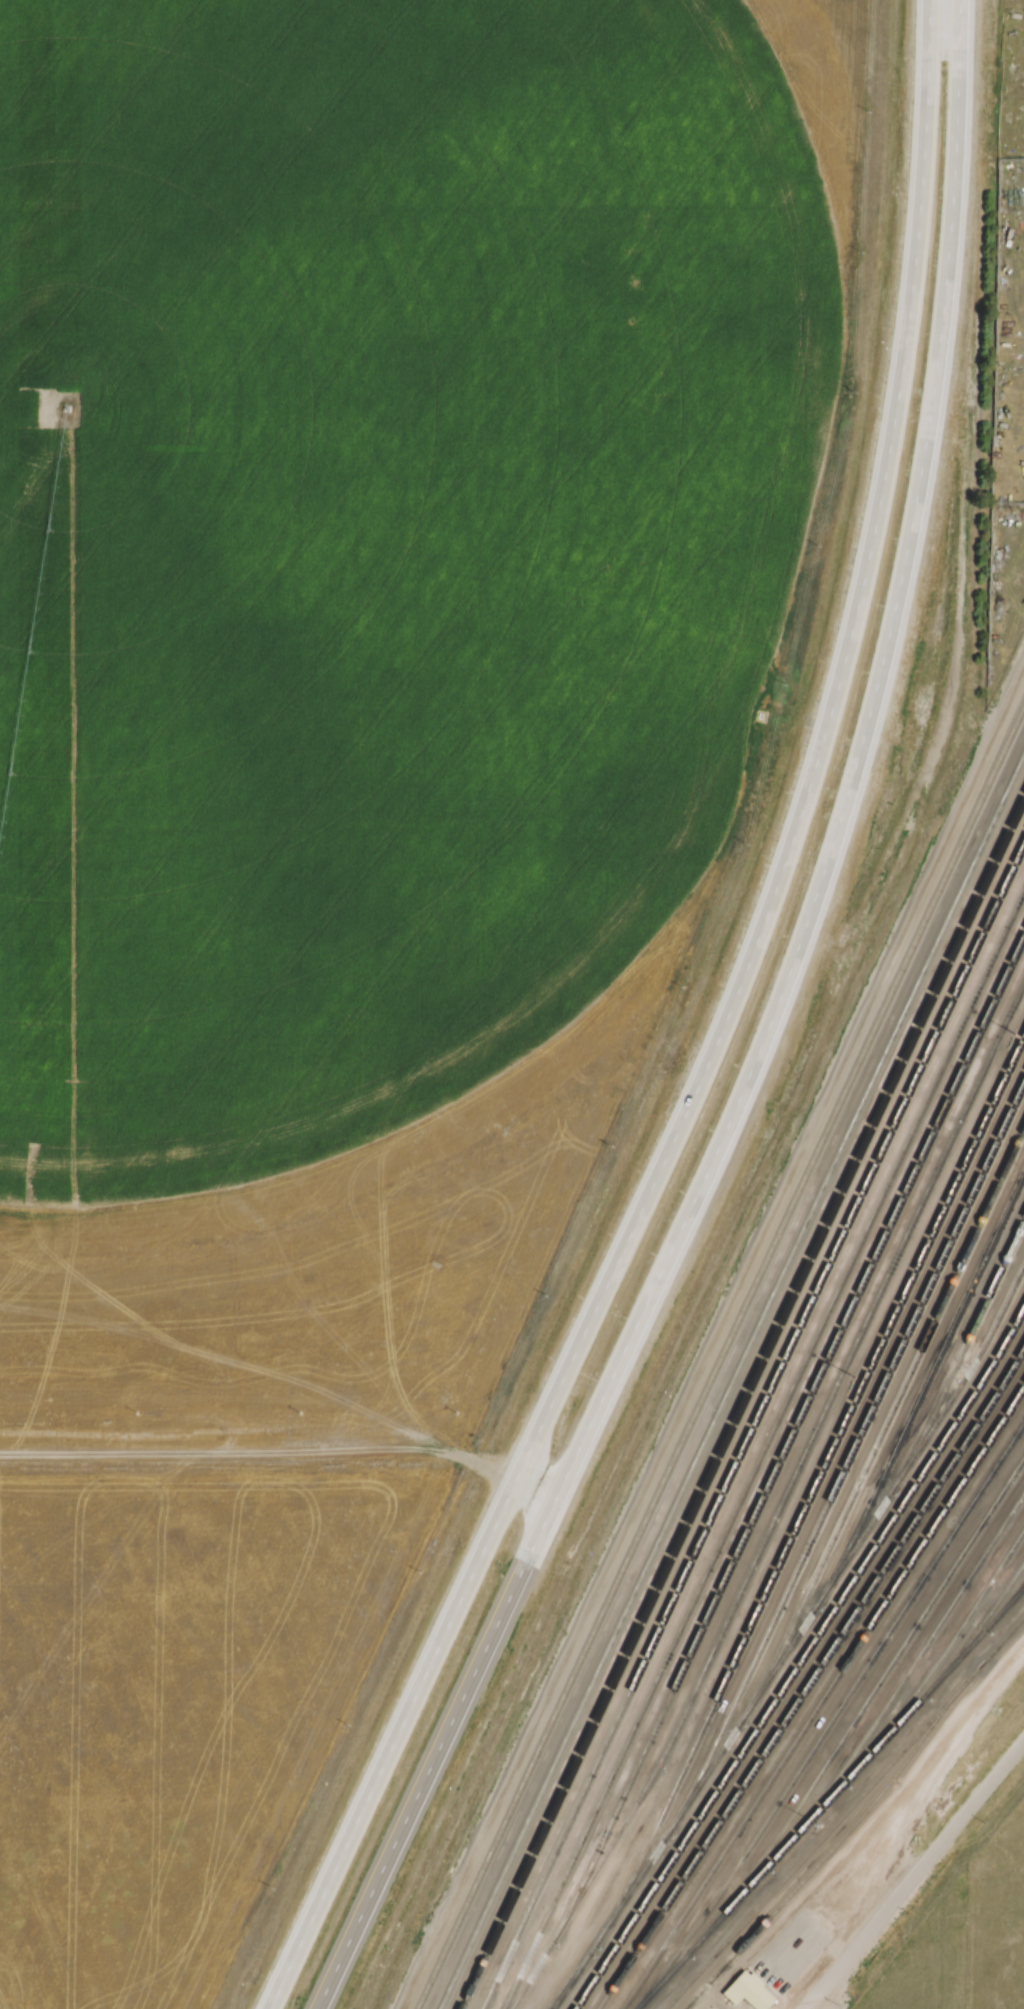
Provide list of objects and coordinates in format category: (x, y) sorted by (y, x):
road: (1018, 277)
road: (801, 1037)
road: (714, 1039)
road: (762, 1040)
road: (713, 1336)
railway: (959, 1358)
railway: (721, 1362)
railway: (925, 1382)
railway: (732, 1384)
railway: (742, 1402)
railway: (885, 1424)
railway: (752, 1428)
railway: (789, 1435)
railway: (763, 1448)
railway: (852, 1449)
road: (281, 1462)
railway: (812, 1488)
railway: (781, 1503)
railway: (1014, 1595)
railway: (1014, 1597)
railway: (983, 1620)
railway: (794, 1637)
railway: (944, 1651)
railway: (992, 1651)
railway: (801, 1658)
railway: (911, 1666)
railway: (812, 1678)
railway: (822, 1698)
railway: (863, 1707)
railway: (832, 1718)
road: (925, 1787)
railway: (821, 1810)
road: (939, 1842)
railway: (812, 1847)
railway: (827, 1852)
road: (827, 1977)
building: (754, 1991)
railway: (559, 1993)
building: (735, 1994)

